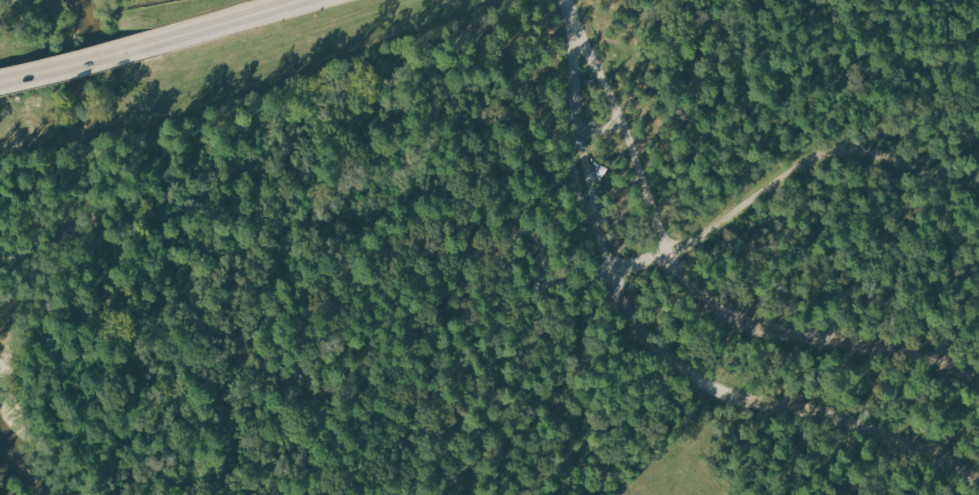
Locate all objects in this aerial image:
road: (572, 17)
road: (243, 21)
road: (84, 64)
road: (601, 129)
road: (634, 152)
road: (574, 166)
river: (88, 170)
building: (594, 171)
road: (588, 172)
road: (612, 184)
road: (642, 263)
road: (503, 324)
road: (822, 340)
road: (784, 405)
river: (32, 458)

